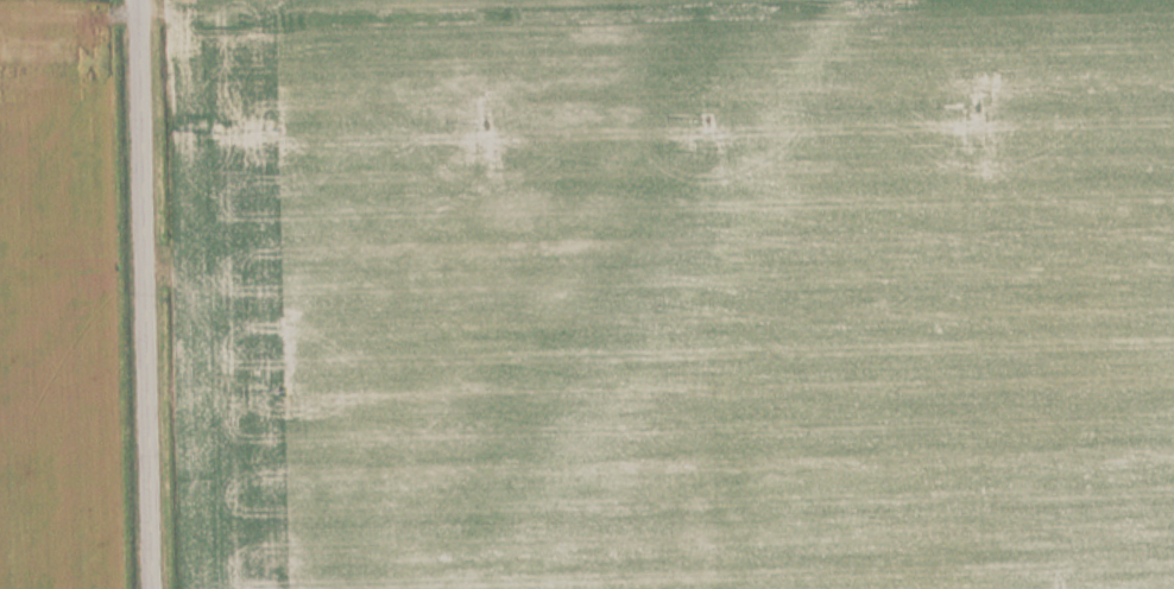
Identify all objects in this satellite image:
road: (157, 294)

